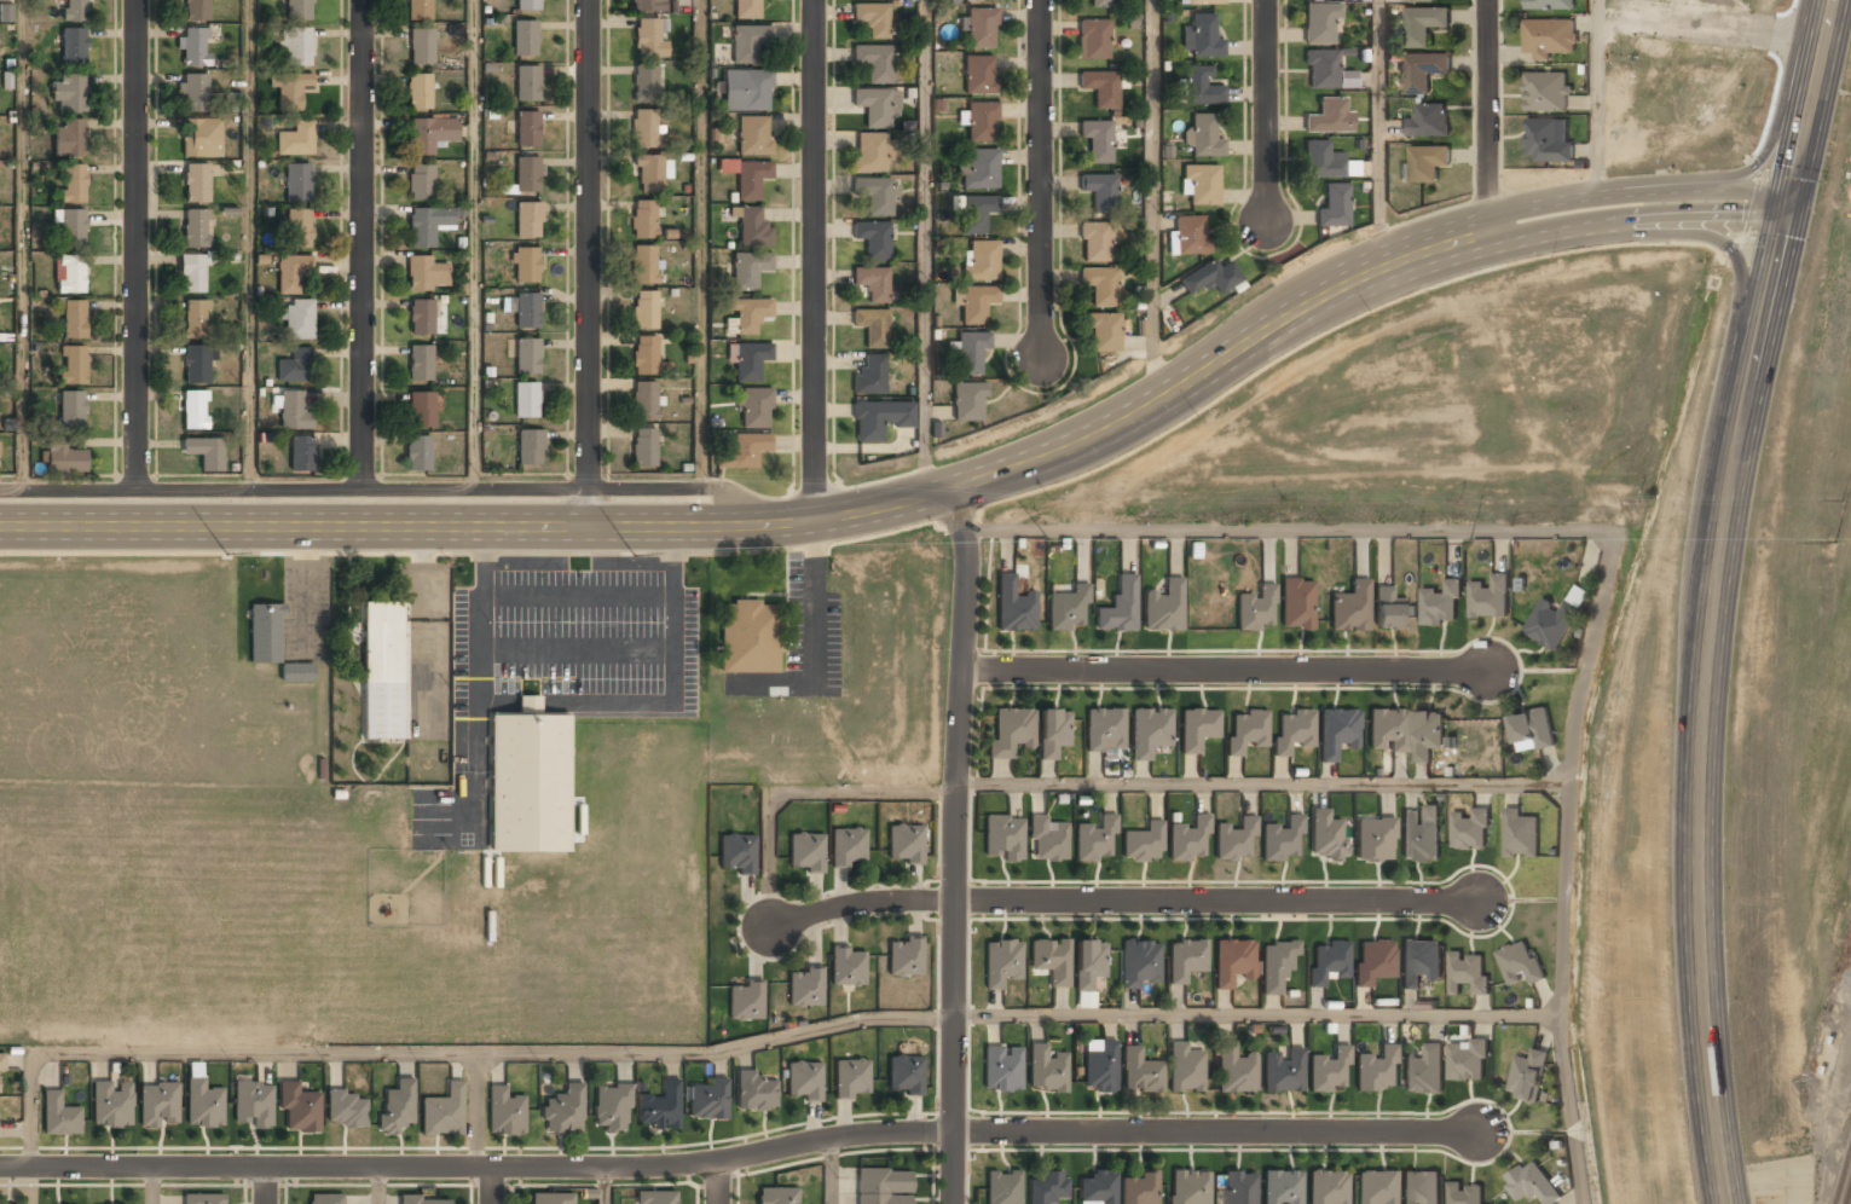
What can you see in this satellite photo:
building: (1, 0)
building: (968, 0)
building: (1417, 0)
building: (1203, 1)
building: (530, 4)
building: (1101, 4)
building: (1549, 5)
building: (650, 6)
building: (74, 10)
building: (299, 10)
building: (420, 10)
building: (746, 10)
building: (196, 11)
building: (6, 13)
building: (872, 19)
building: (1320, 23)
building: (1422, 24)
building: (981, 28)
building: (525, 36)
building: (1201, 36)
building: (1546, 37)
building: (648, 39)
building: (1093, 40)
building: (748, 44)
building: (296, 46)
building: (73, 47)
building: (193, 47)
building: (421, 47)
building: (874, 63)
building: (1321, 69)
building: (1422, 71)
building: (978, 75)
building: (527, 82)
building: (644, 83)
building: (1198, 87)
building: (1101, 89)
building: (291, 91)
building: (746, 91)
building: (193, 92)
building: (418, 92)
building: (1545, 92)
building: (68, 94)
road: (1597, 97)
building: (877, 106)
road: (1809, 109)
road: (1266, 111)
road: (1487, 116)
building: (1326, 117)
road: (1775, 120)
building: (1427, 121)
building: (981, 122)
building: (528, 128)
building: (644, 129)
building: (430, 135)
building: (753, 135)
road: (1378, 135)
building: (1202, 137)
building: (201, 138)
building: (68, 139)
building: (296, 139)
building: (1097, 140)
building: (1545, 141)
building: (870, 154)
building: (1325, 161)
building: (1425, 163)
building: (978, 169)
building: (527, 173)
building: (650, 173)
building: (747, 176)
road: (1040, 176)
building: (74, 183)
building: (196, 183)
building: (297, 183)
building: (421, 183)
building: (1199, 184)
traffic signals: (1793, 190)
road: (1636, 191)
building: (1100, 192)
building: (875, 195)
road: (1150, 201)
building: (1334, 206)
building: (976, 213)
building: (528, 219)
traffic signals: (1786, 219)
building: (643, 220)
building: (428, 225)
building: (751, 225)
road: (1635, 225)
building: (71, 227)
building: (299, 227)
building: (196, 228)
building: (1190, 236)
building: (873, 239)
building: (1094, 243)
road: (21, 245)
road: (138, 245)
road: (247, 245)
road: (363, 245)
road: (473, 245)
road: (699, 245)
road: (1725, 245)
road: (924, 248)
road: (814, 260)
building: (979, 261)
road: (588, 264)
building: (526, 265)
building: (644, 265)
building: (748, 268)
building: (291, 272)
building: (70, 273)
building: (192, 273)
building: (426, 274)
building: (1205, 279)
building: (873, 284)
building: (1100, 285)
building: (974, 303)
building: (526, 311)
building: (644, 311)
building: (746, 314)
building: (421, 316)
building: (74, 319)
building: (195, 319)
building: (299, 319)
building: (872, 328)
building: (1103, 332)
building: (970, 352)
building: (644, 355)
building: (527, 357)
building: (747, 359)
building: (420, 363)
building: (73, 364)
building: (196, 365)
building: (294, 366)
building: (869, 377)
building: (526, 400)
building: (644, 401)
building: (967, 401)
building: (754, 409)
building: (421, 410)
building: (71, 411)
building: (195, 411)
building: (293, 412)
building: (879, 419)
building: (530, 446)
building: (644, 448)
building: (742, 451)
building: (206, 452)
building: (301, 453)
building: (417, 453)
building: (66, 458)
road: (388, 491)
road: (1723, 499)
road: (776, 525)
power tower: (1470, 542)
power tower: (1826, 542)
power tower: (1054, 543)
road: (1609, 549)
power tower: (272, 555)
power tower: (640, 555)
building: (1490, 597)
building: (1441, 603)
building: (1296, 604)
building: (1013, 607)
building: (1120, 607)
building: (1163, 608)
building: (1349, 608)
building: (1069, 609)
building: (1255, 609)
building: (1388, 612)
building: (1555, 620)
building: (265, 632)
building: (748, 637)
road: (1227, 670)
building: (382, 671)
building: (296, 673)
building: (1198, 728)
building: (1105, 729)
building: (1533, 729)
building: (1388, 730)
building: (1053, 731)
building: (1150, 731)
building: (1246, 731)
building: (1294, 731)
building: (1337, 731)
building: (1427, 733)
building: (1003, 736)
building: (528, 780)
road: (1263, 785)
road: (798, 794)
building: (1470, 829)
building: (1520, 834)
building: (1003, 837)
building: (1325, 837)
building: (1419, 837)
building: (1048, 838)
building: (1094, 839)
building: (1188, 839)
building: (1234, 839)
building: (1375, 839)
building: (1282, 840)
building: (904, 843)
building: (1144, 843)
road: (958, 844)
building: (848, 847)
building: (805, 852)
building: (736, 855)
road: (1126, 903)
building: (904, 957)
building: (1048, 961)
building: (1185, 961)
building: (1375, 961)
building: (1421, 961)
building: (1140, 962)
building: (1233, 962)
building: (1327, 962)
building: (1000, 963)
building: (1088, 963)
building: (1520, 963)
building: (848, 968)
building: (1276, 969)
building: (1469, 973)
building: (805, 989)
road: (1702, 996)
building: (1086, 998)
building: (746, 1001)
road: (1259, 1015)
road: (440, 1052)
building: (1469, 1060)
building: (1, 1064)
building: (1001, 1069)
building: (1046, 1069)
building: (1185, 1070)
building: (1234, 1070)
building: (1376, 1070)
building: (1424, 1070)
building: (1282, 1071)
building: (1329, 1071)
building: (1140, 1073)
building: (904, 1075)
building: (1098, 1075)
building: (1528, 1076)
building: (851, 1078)
building: (804, 1082)
building: (754, 1093)
building: (707, 1100)
building: (111, 1105)
building: (158, 1105)
building: (202, 1105)
building: (253, 1105)
building: (397, 1107)
building: (660, 1107)
road: (476, 1109)
building: (612, 1109)
building: (299, 1110)
building: (346, 1111)
building: (563, 1112)
building: (444, 1113)
building: (505, 1113)
building: (59, 1117)
road: (742, 1157)
road: (832, 1170)
railway: (1843, 1177)
road: (721, 1182)
road: (606, 1183)
building: (1531, 1183)
road: (268, 1185)
road: (378, 1185)
road: (493, 1185)
road: (150, 1186)
building: (881, 1186)
building: (1002, 1187)
building: (1188, 1187)
building: (1375, 1187)
building: (1098, 1188)
building: (1238, 1188)
building: (1282, 1188)
building: (1326, 1188)
building: (1421, 1188)
building: (1045, 1189)
building: (1139, 1189)
building: (1467, 1193)
building: (776, 1196)
railway: (1849, 1197)
building: (654, 1198)
building: (202, 1199)
building: (322, 1199)
building: (551, 1199)
building: (423, 1200)

